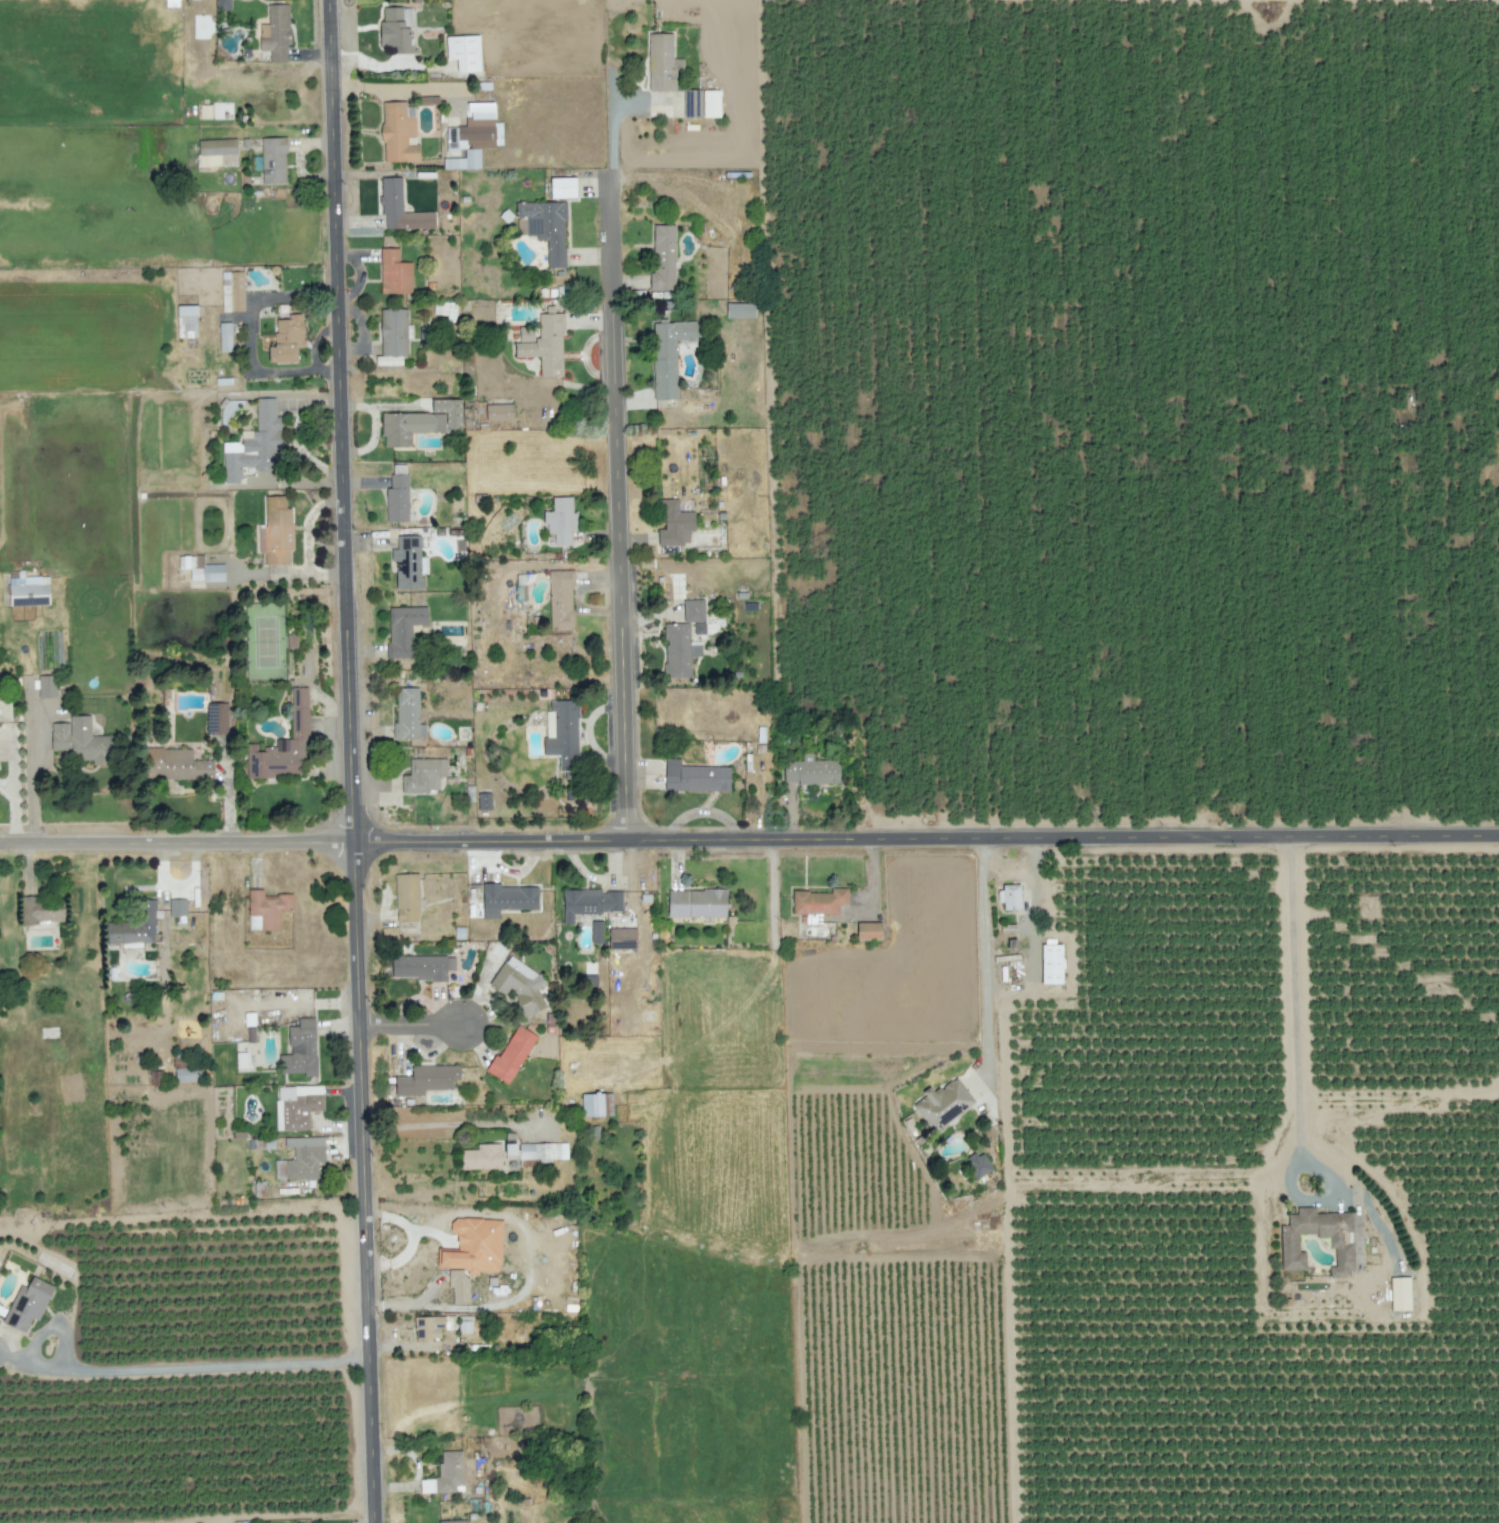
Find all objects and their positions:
building: (223, 5)
building: (395, 31)
building: (276, 32)
building: (464, 52)
building: (662, 63)
building: (692, 103)
building: (711, 103)
building: (205, 112)
building: (398, 133)
building: (471, 136)
building: (217, 152)
building: (273, 160)
building: (562, 187)
building: (400, 208)
building: (544, 227)
building: (663, 258)
building: (394, 272)
building: (232, 291)
building: (446, 310)
building: (740, 310)
building: (186, 321)
building: (225, 336)
building: (393, 336)
building: (287, 339)
building: (543, 344)
building: (668, 355)
building: (499, 412)
building: (421, 422)
building: (255, 444)
road: (621, 471)
building: (397, 498)
building: (560, 520)
building: (674, 524)
building: (276, 531)
building: (201, 569)
building: (28, 591)
building: (560, 600)
building: (695, 614)
building: (403, 629)
building: (292, 641)
building: (678, 650)
building: (47, 686)
building: (408, 715)
building: (562, 733)
building: (80, 740)
building: (284, 745)
road: (352, 761)
building: (175, 764)
building: (812, 770)
building: (424, 775)
building: (695, 777)
road: (34, 787)
building: (484, 801)
road: (16, 811)
road: (749, 840)
road: (1006, 873)
road: (177, 886)
building: (406, 897)
building: (507, 898)
building: (1011, 899)
building: (819, 901)
building: (589, 902)
building: (696, 903)
building: (177, 907)
building: (266, 909)
building: (41, 911)
building: (134, 926)
building: (868, 930)
building: (597, 931)
road: (1031, 935)
building: (622, 937)
road: (986, 953)
building: (421, 966)
building: (1052, 966)
building: (590, 981)
building: (518, 983)
road: (1293, 992)
road: (416, 1029)
building: (300, 1049)
building: (511, 1055)
building: (186, 1074)
building: (426, 1079)
building: (607, 1104)
building: (592, 1105)
building: (942, 1105)
building: (295, 1107)
road: (435, 1123)
building: (535, 1151)
building: (481, 1157)
building: (301, 1158)
building: (978, 1164)
road: (411, 1241)
building: (474, 1246)
building: (1340, 1246)
building: (458, 1285)
building: (1399, 1296)
building: (27, 1304)
building: (464, 1323)
building: (428, 1327)
road: (24, 1357)
road: (210, 1365)
building: (445, 1474)
road: (282, 1516)
building: (452, 1521)

